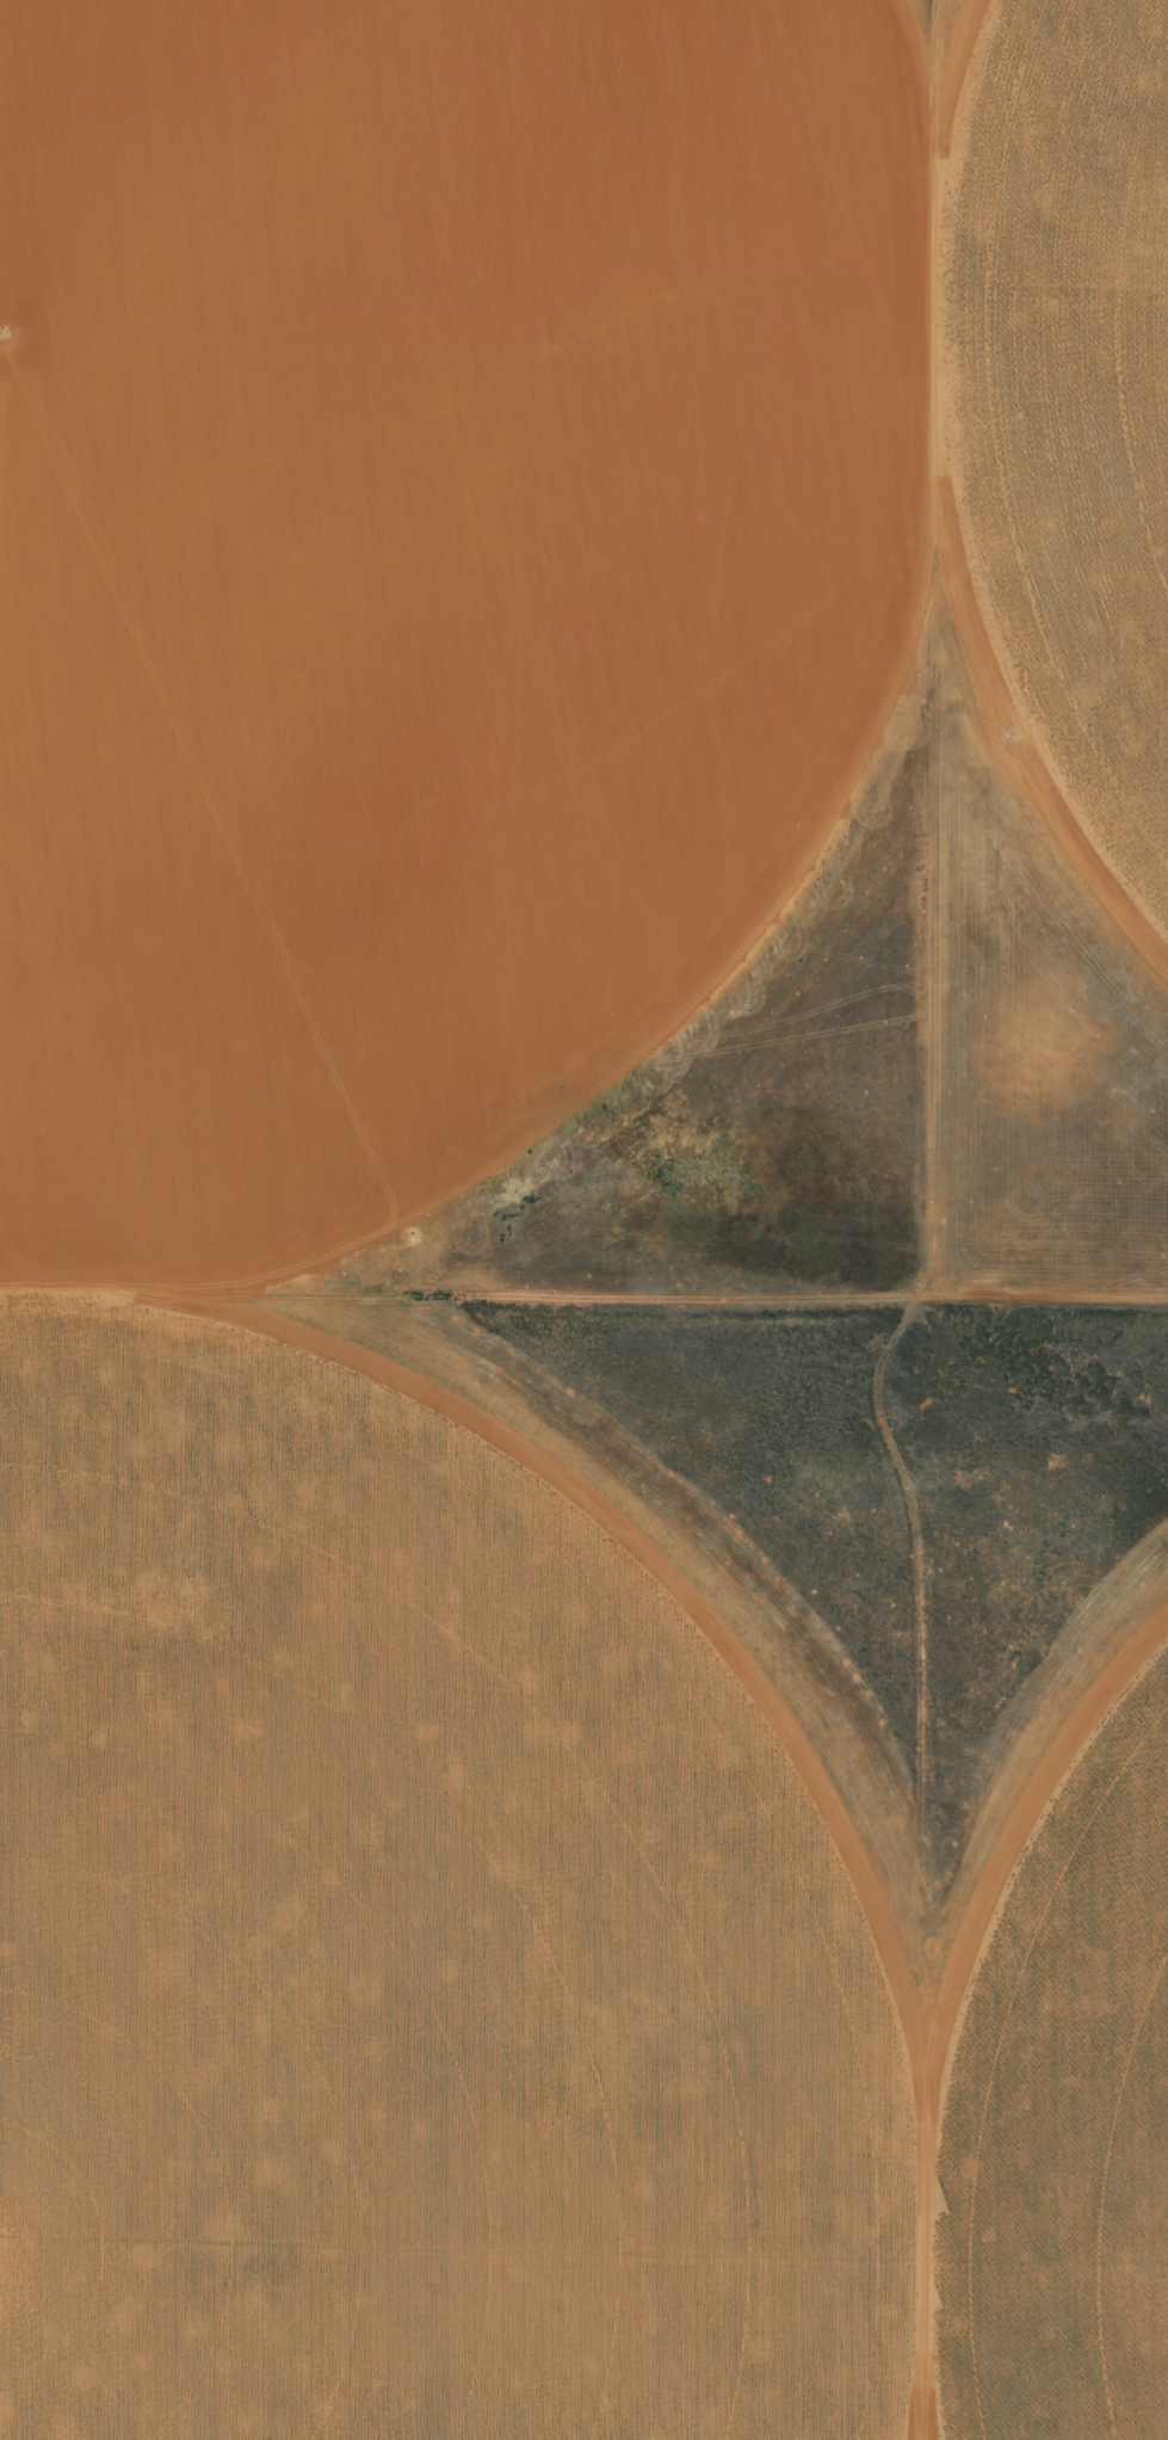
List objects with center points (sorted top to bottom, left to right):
road: (951, 642)
road: (583, 1301)

